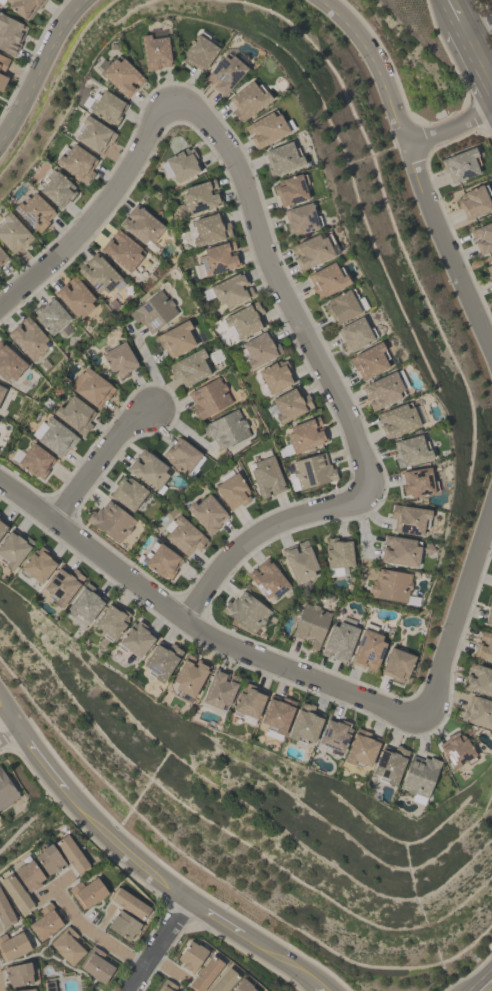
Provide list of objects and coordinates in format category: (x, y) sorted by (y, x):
building: (23, 6)
road: (454, 14)
road: (476, 21)
building: (10, 34)
building: (154, 51)
building: (199, 51)
road: (476, 60)
building: (3, 63)
road: (36, 65)
road: (369, 67)
building: (225, 73)
building: (121, 76)
building: (2, 81)
building: (248, 100)
building: (103, 105)
road: (449, 126)
building: (266, 128)
building: (93, 134)
building: (282, 158)
building: (76, 162)
building: (180, 164)
building: (460, 164)
building: (57, 188)
building: (290, 189)
building: (200, 196)
building: (473, 201)
road: (88, 209)
building: (34, 211)
building: (301, 219)
building: (141, 224)
building: (210, 228)
building: (12, 233)
building: (482, 237)
building: (312, 249)
building: (122, 250)
building: (2, 257)
building: (216, 259)
road: (445, 269)
building: (489, 270)
building: (99, 274)
road: (263, 276)
building: (327, 279)
building: (229, 290)
building: (74, 297)
building: (343, 305)
building: (153, 311)
building: (50, 316)
building: (244, 320)
building: (354, 334)
building: (28, 338)
building: (175, 338)
building: (259, 349)
building: (119, 359)
building: (369, 361)
building: (9, 363)
building: (189, 367)
building: (275, 375)
building: (90, 387)
building: (1, 390)
building: (383, 390)
building: (208, 398)
building: (290, 404)
building: (74, 414)
building: (398, 420)
building: (225, 428)
building: (304, 434)
building: (53, 436)
building: (411, 451)
road: (99, 456)
building: (183, 457)
building: (34, 461)
building: (147, 469)
building: (312, 471)
building: (266, 475)
building: (418, 482)
building: (232, 489)
building: (128, 492)
building: (206, 513)
building: (409, 519)
building: (111, 521)
building: (2, 528)
road: (255, 529)
building: (183, 535)
building: (13, 550)
building: (400, 551)
building: (338, 555)
building: (160, 560)
building: (299, 562)
building: (37, 565)
building: (268, 579)
building: (62, 586)
building: (391, 587)
road: (452, 602)
building: (83, 607)
building: (245, 612)
building: (489, 613)
road: (187, 620)
building: (111, 622)
building: (310, 625)
building: (136, 639)
building: (339, 641)
building: (484, 647)
building: (368, 650)
building: (162, 661)
building: (397, 665)
building: (190, 676)
building: (478, 679)
building: (220, 689)
building: (248, 703)
road: (8, 709)
building: (478, 713)
building: (277, 717)
building: (305, 724)
road: (8, 727)
building: (335, 736)
building: (361, 749)
building: (456, 750)
road: (42, 754)
building: (390, 766)
building: (420, 777)
building: (6, 791)
road: (122, 848)
building: (70, 854)
building: (49, 860)
building: (29, 875)
road: (55, 885)
building: (87, 891)
building: (15, 893)
building: (130, 905)
building: (5, 912)
road: (215, 916)
building: (46, 922)
building: (123, 925)
road: (94, 931)
road: (158, 944)
building: (12, 946)
building: (67, 946)
building: (191, 956)
road: (278, 959)
building: (96, 966)
building: (18, 974)
building: (205, 974)
building: (224, 981)
building: (165, 986)
building: (242, 986)
road: (487, 986)
road: (318, 987)
building: (26, 990)

